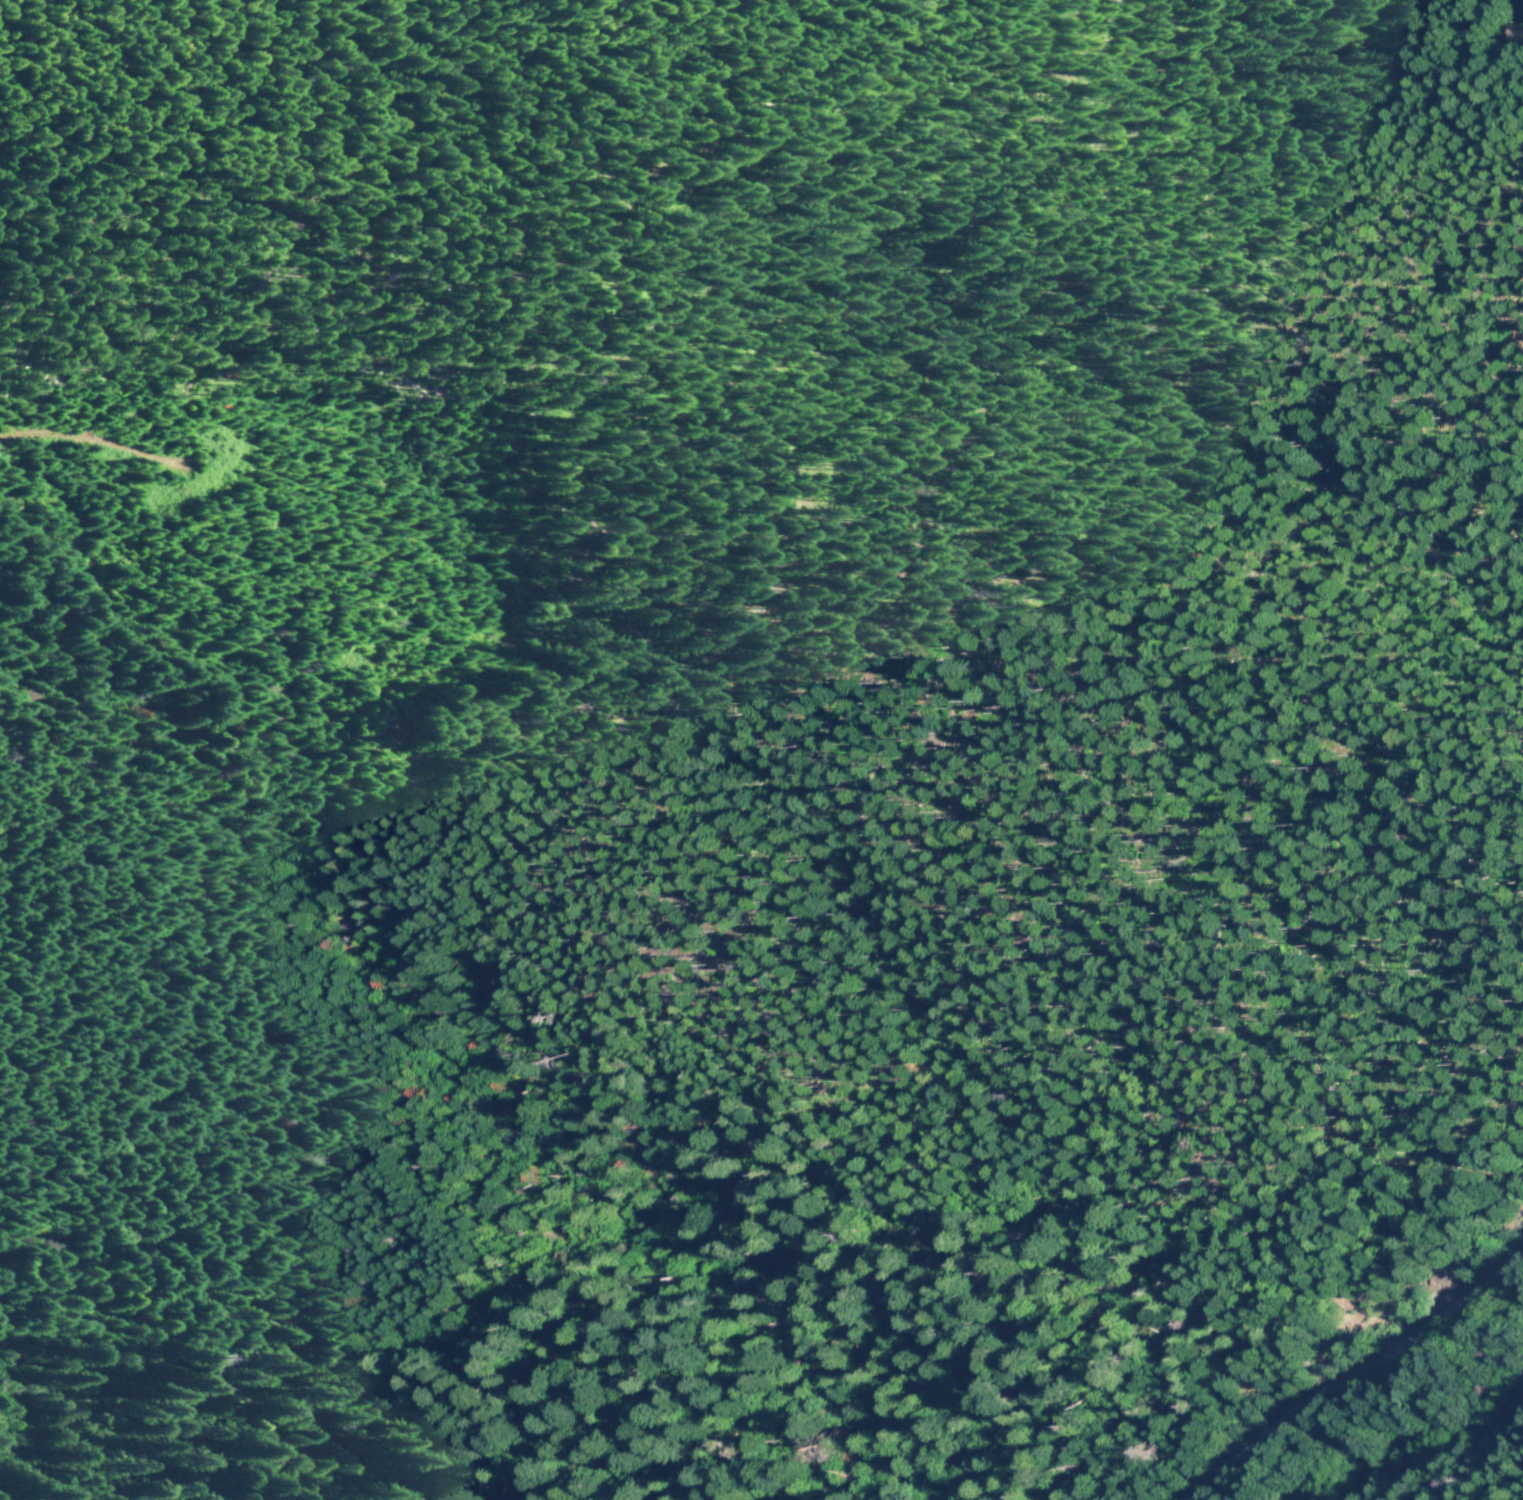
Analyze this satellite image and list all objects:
road: (1261, 1303)

